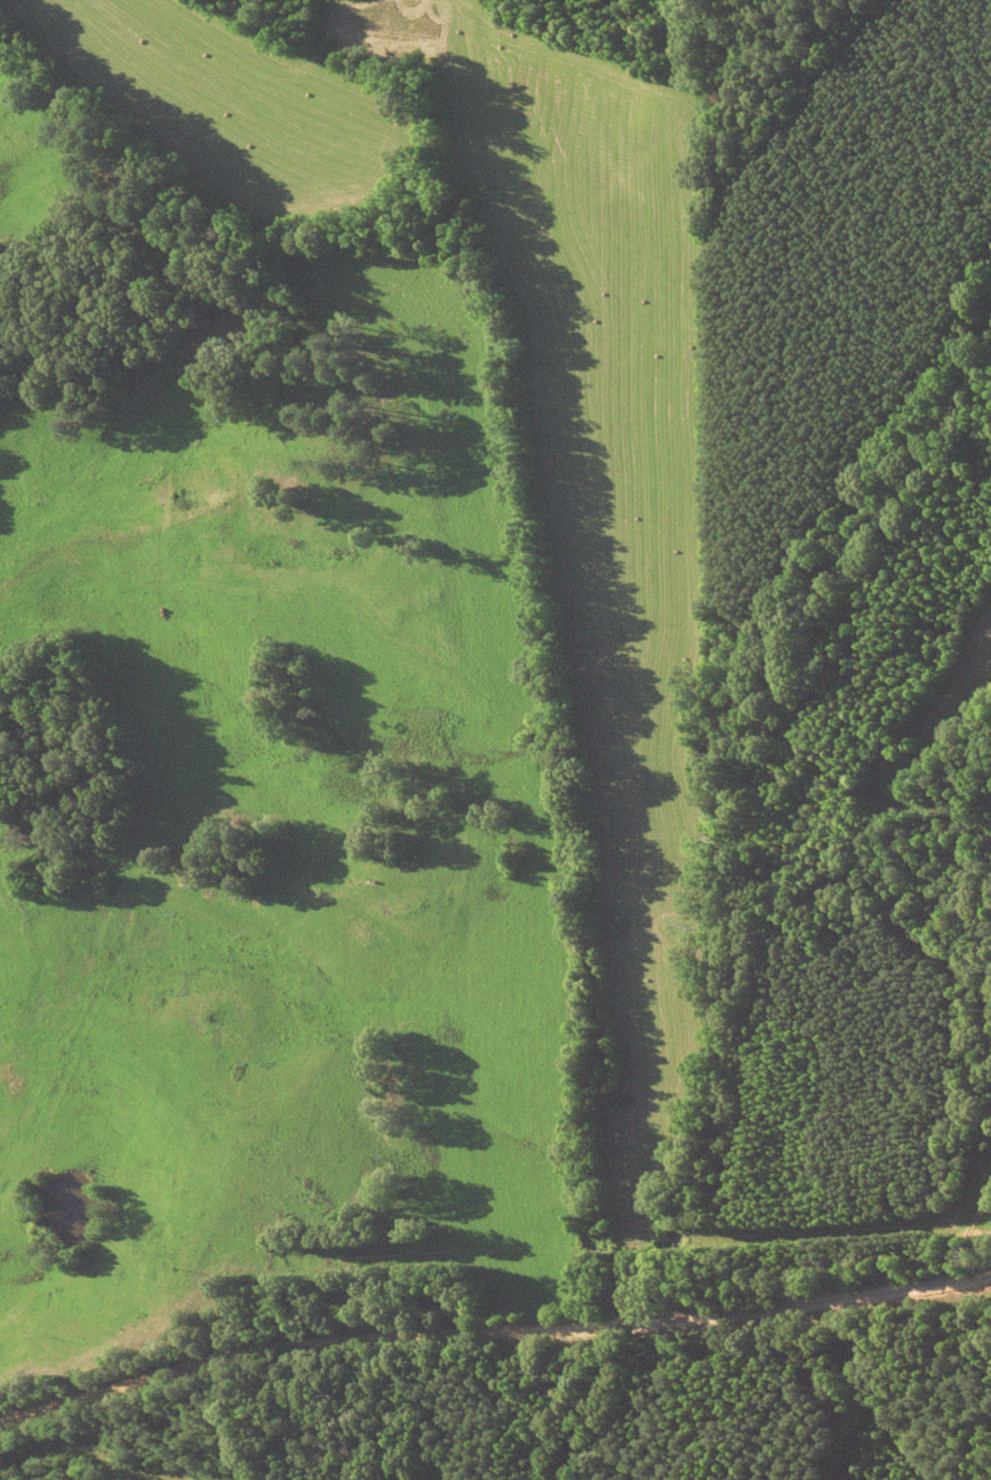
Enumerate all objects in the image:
road: (493, 1331)

